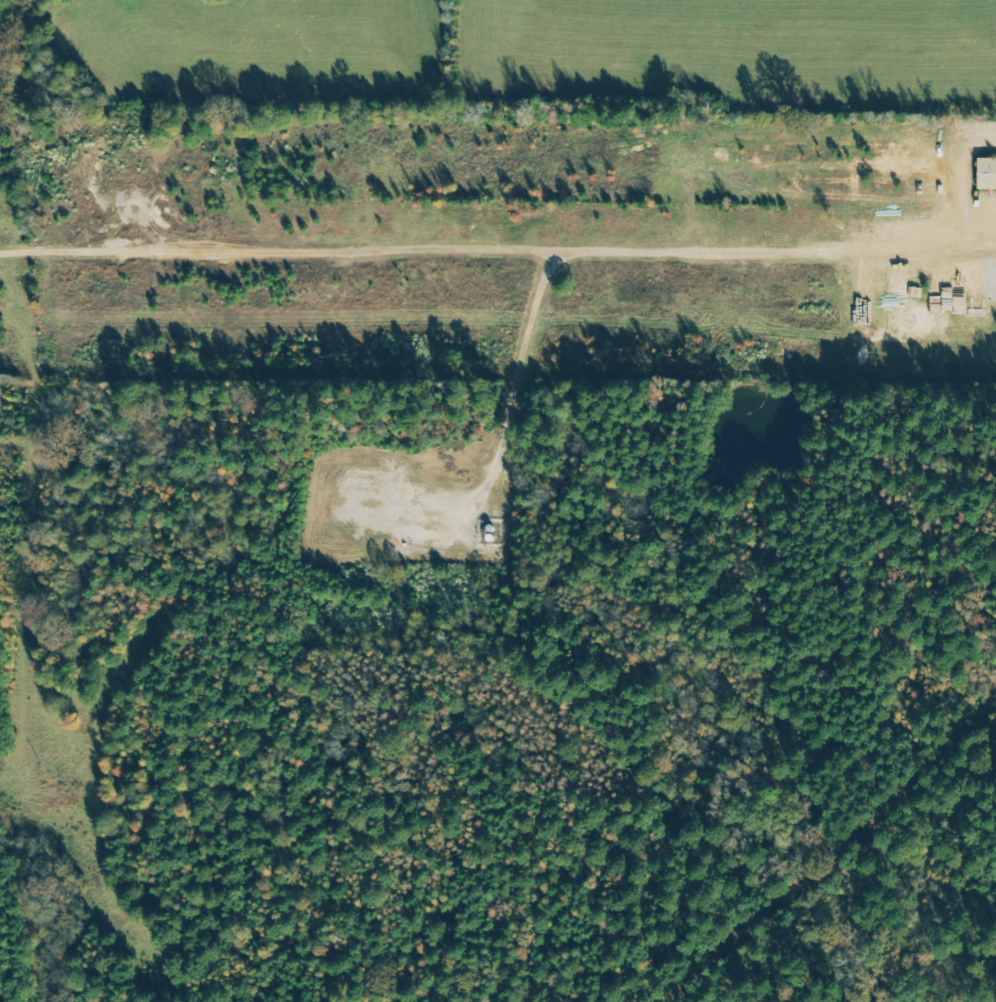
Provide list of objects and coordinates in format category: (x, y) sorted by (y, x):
building: (985, 173)
road: (498, 253)

